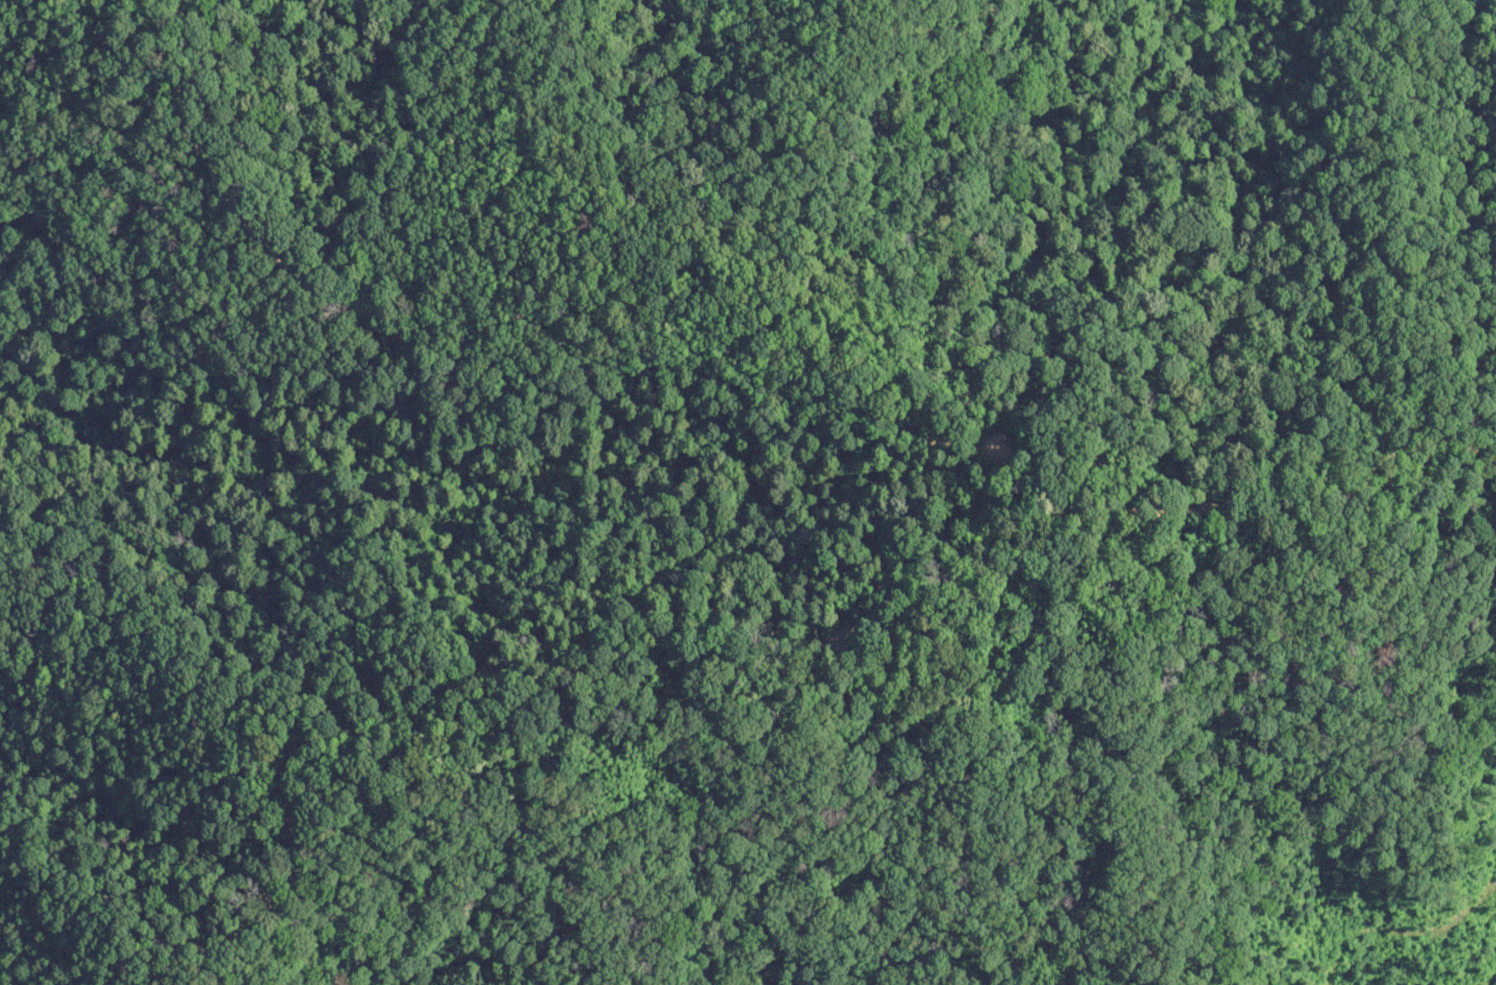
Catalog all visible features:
road: (961, 497)

